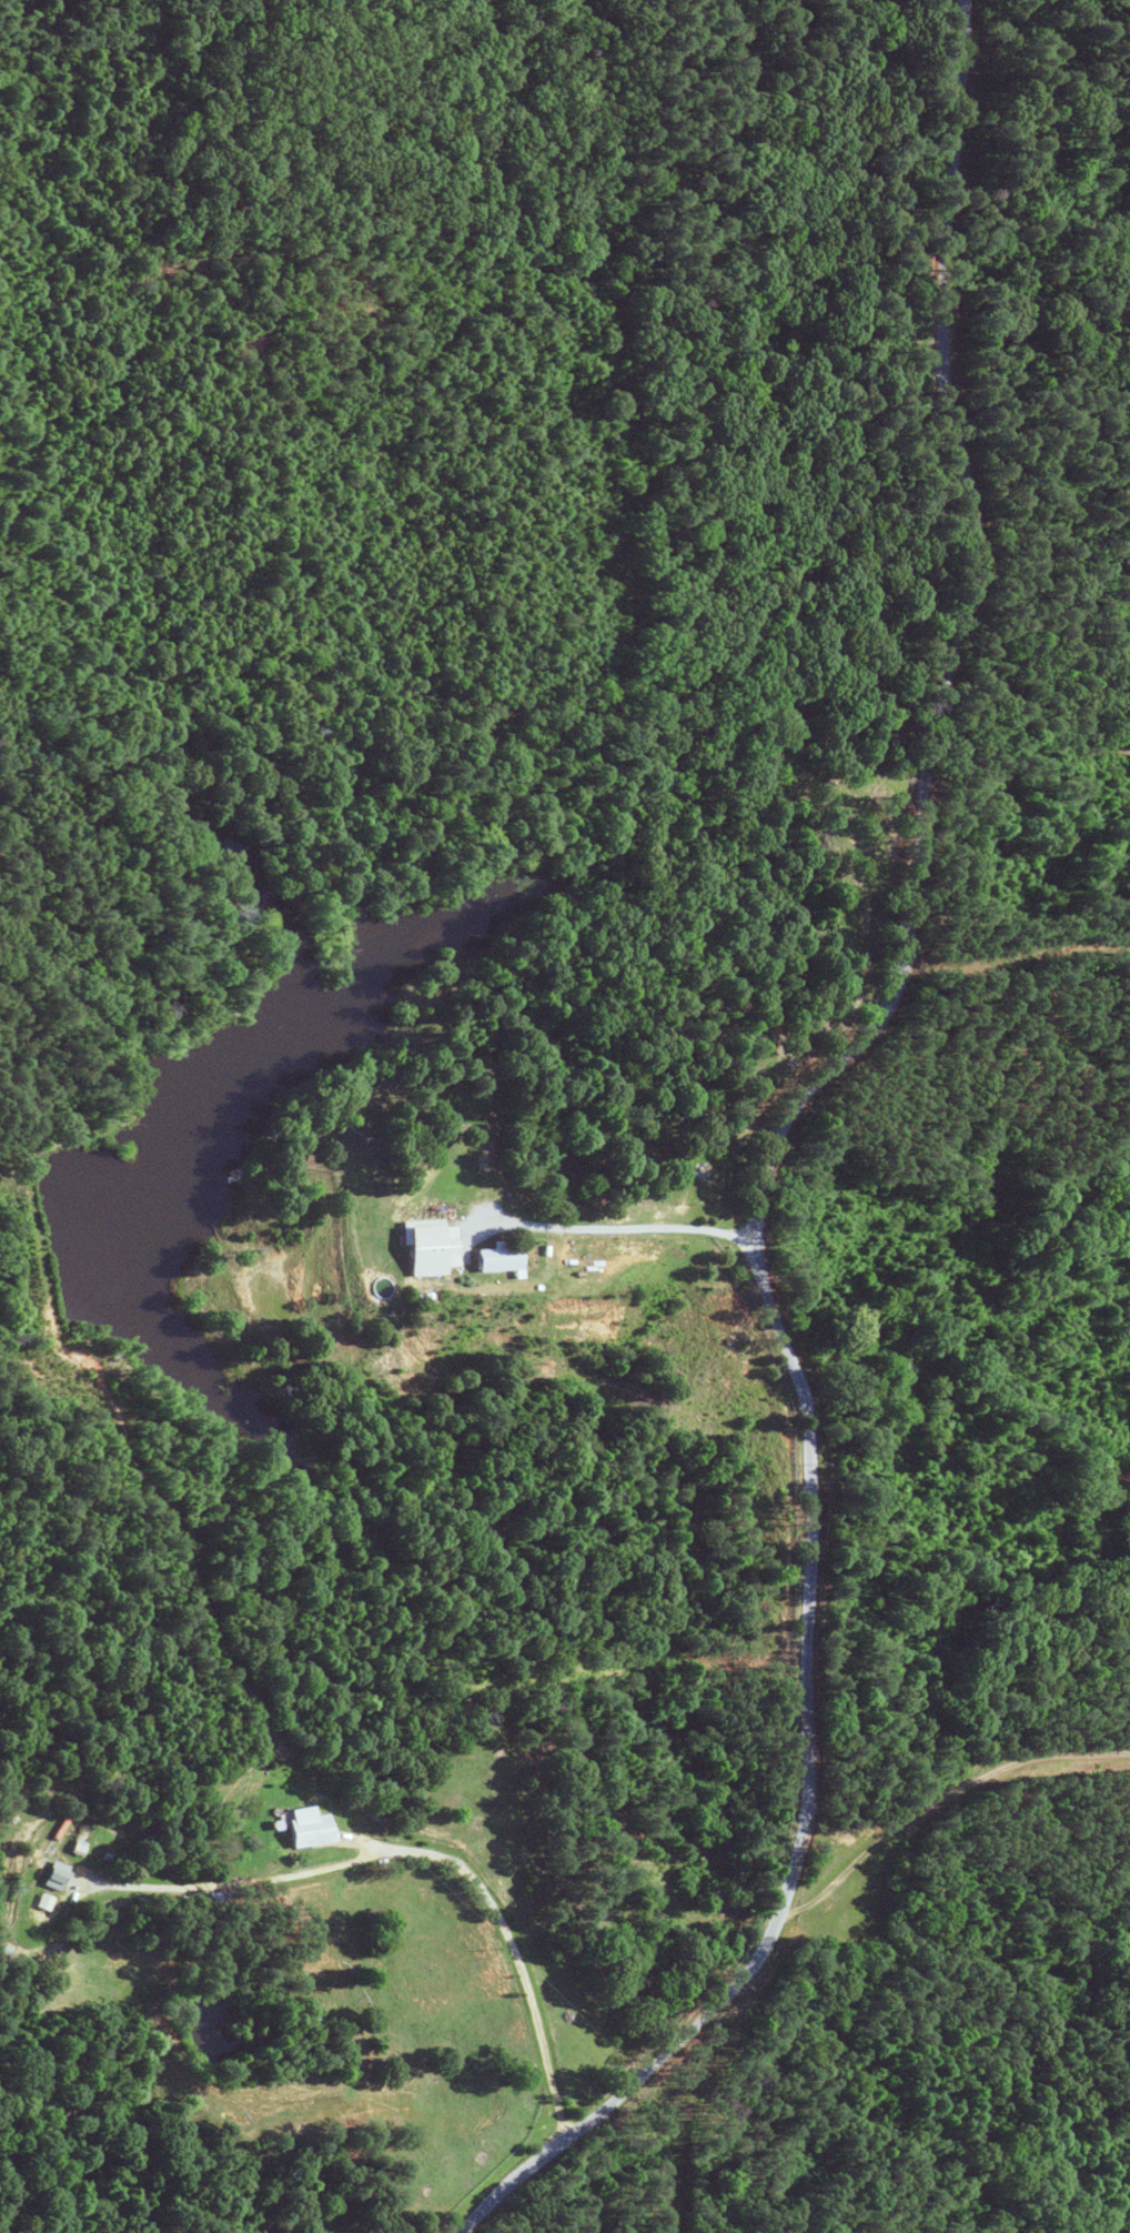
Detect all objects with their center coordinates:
road: (628, 928)
road: (779, 1146)
road: (622, 1225)
building: (432, 1248)
building: (498, 1260)
road: (485, 1480)
building: (307, 1831)
road: (946, 1893)
building: (38, 1903)
road: (518, 1949)
road: (281, 2088)
road: (507, 2232)

